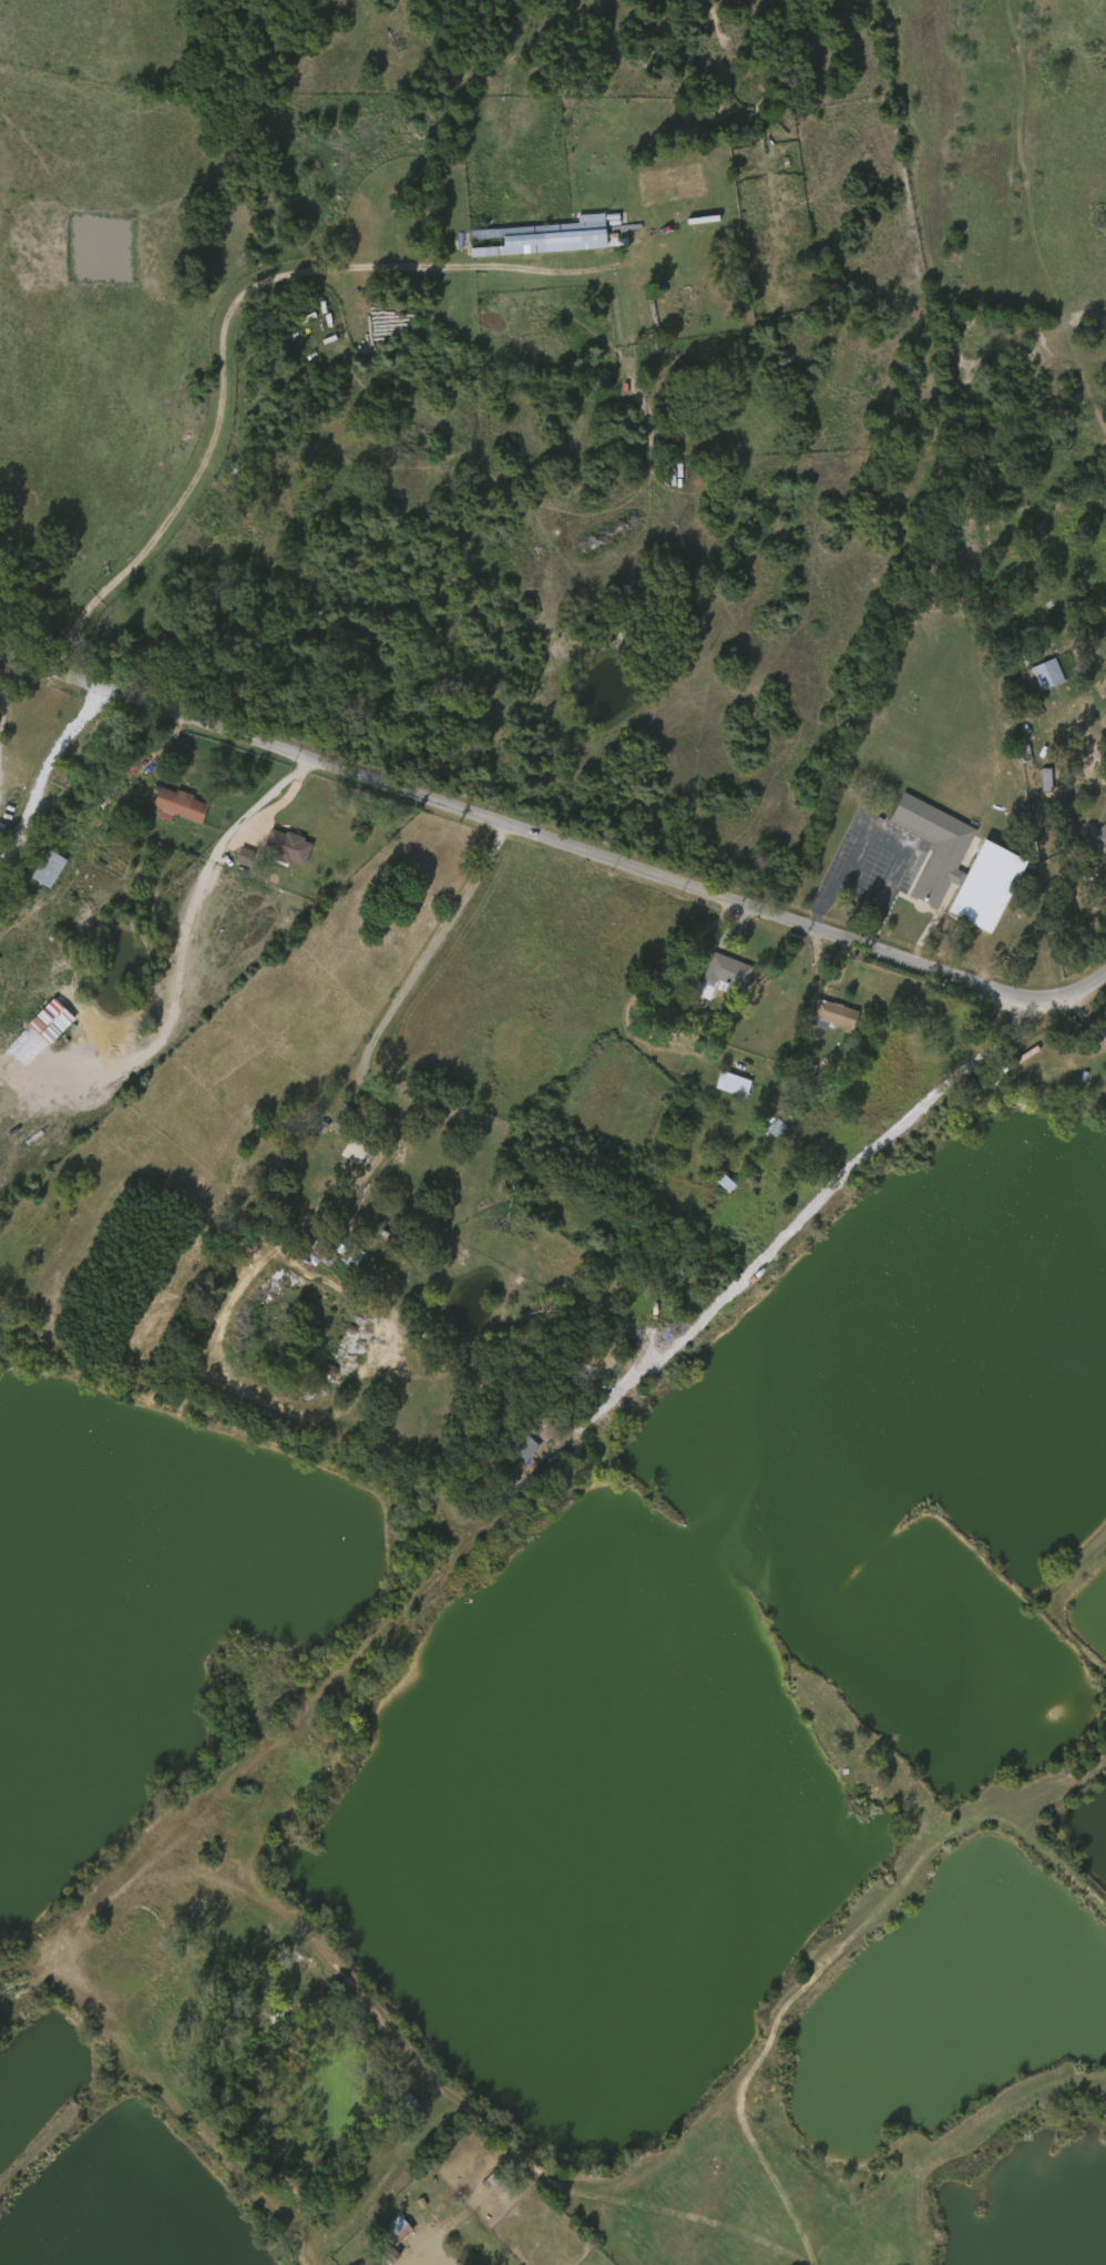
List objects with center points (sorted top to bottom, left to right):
building: (537, 237)
road: (227, 322)
building: (1048, 673)
building: (1034, 677)
road: (4, 681)
building: (177, 805)
building: (1096, 835)
road: (880, 838)
road: (552, 839)
building: (286, 846)
building: (1105, 857)
building: (232, 860)
building: (1000, 865)
building: (49, 868)
building: (37, 873)
road: (188, 917)
road: (441, 950)
building: (725, 975)
building: (837, 1014)
road: (1085, 1016)
building: (822, 1019)
building: (39, 1024)
building: (734, 1083)
building: (720, 1088)
building: (341, 1118)
building: (330, 1120)
building: (762, 1131)
building: (344, 1156)
building: (713, 1186)
road: (816, 1202)
building: (315, 1257)
building: (512, 1450)
building: (496, 2181)
building: (390, 2237)
road: (427, 2258)

